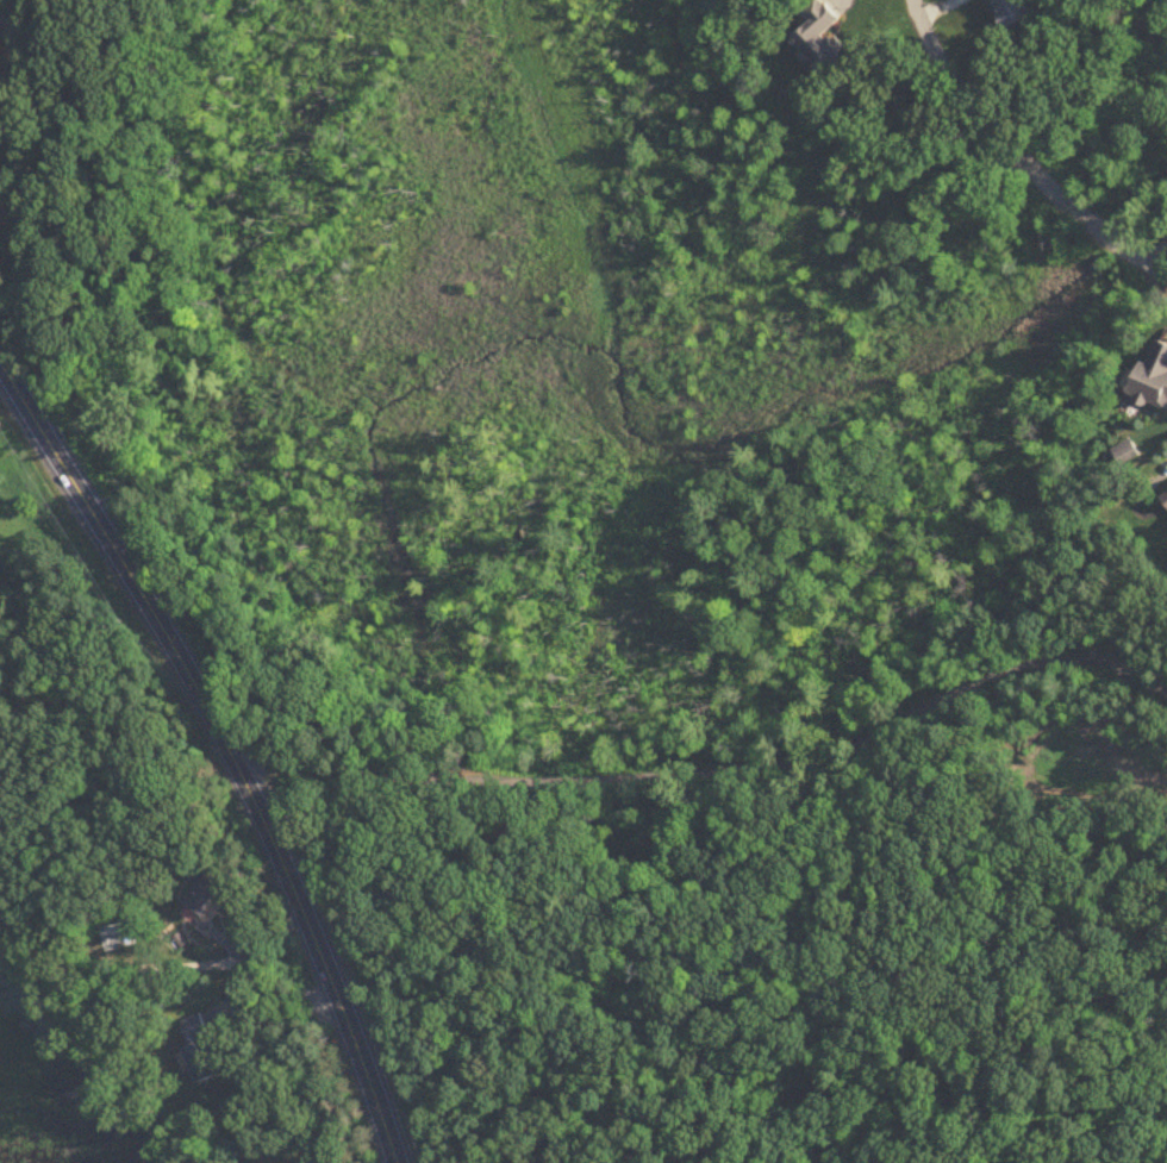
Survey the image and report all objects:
building: (1012, 11)
building: (819, 35)
road: (1013, 158)
building: (1152, 379)
building: (1125, 454)
building: (1165, 499)
road: (230, 744)
road: (718, 774)
building: (202, 901)
road: (269, 934)
road: (269, 984)
building: (200, 1050)

